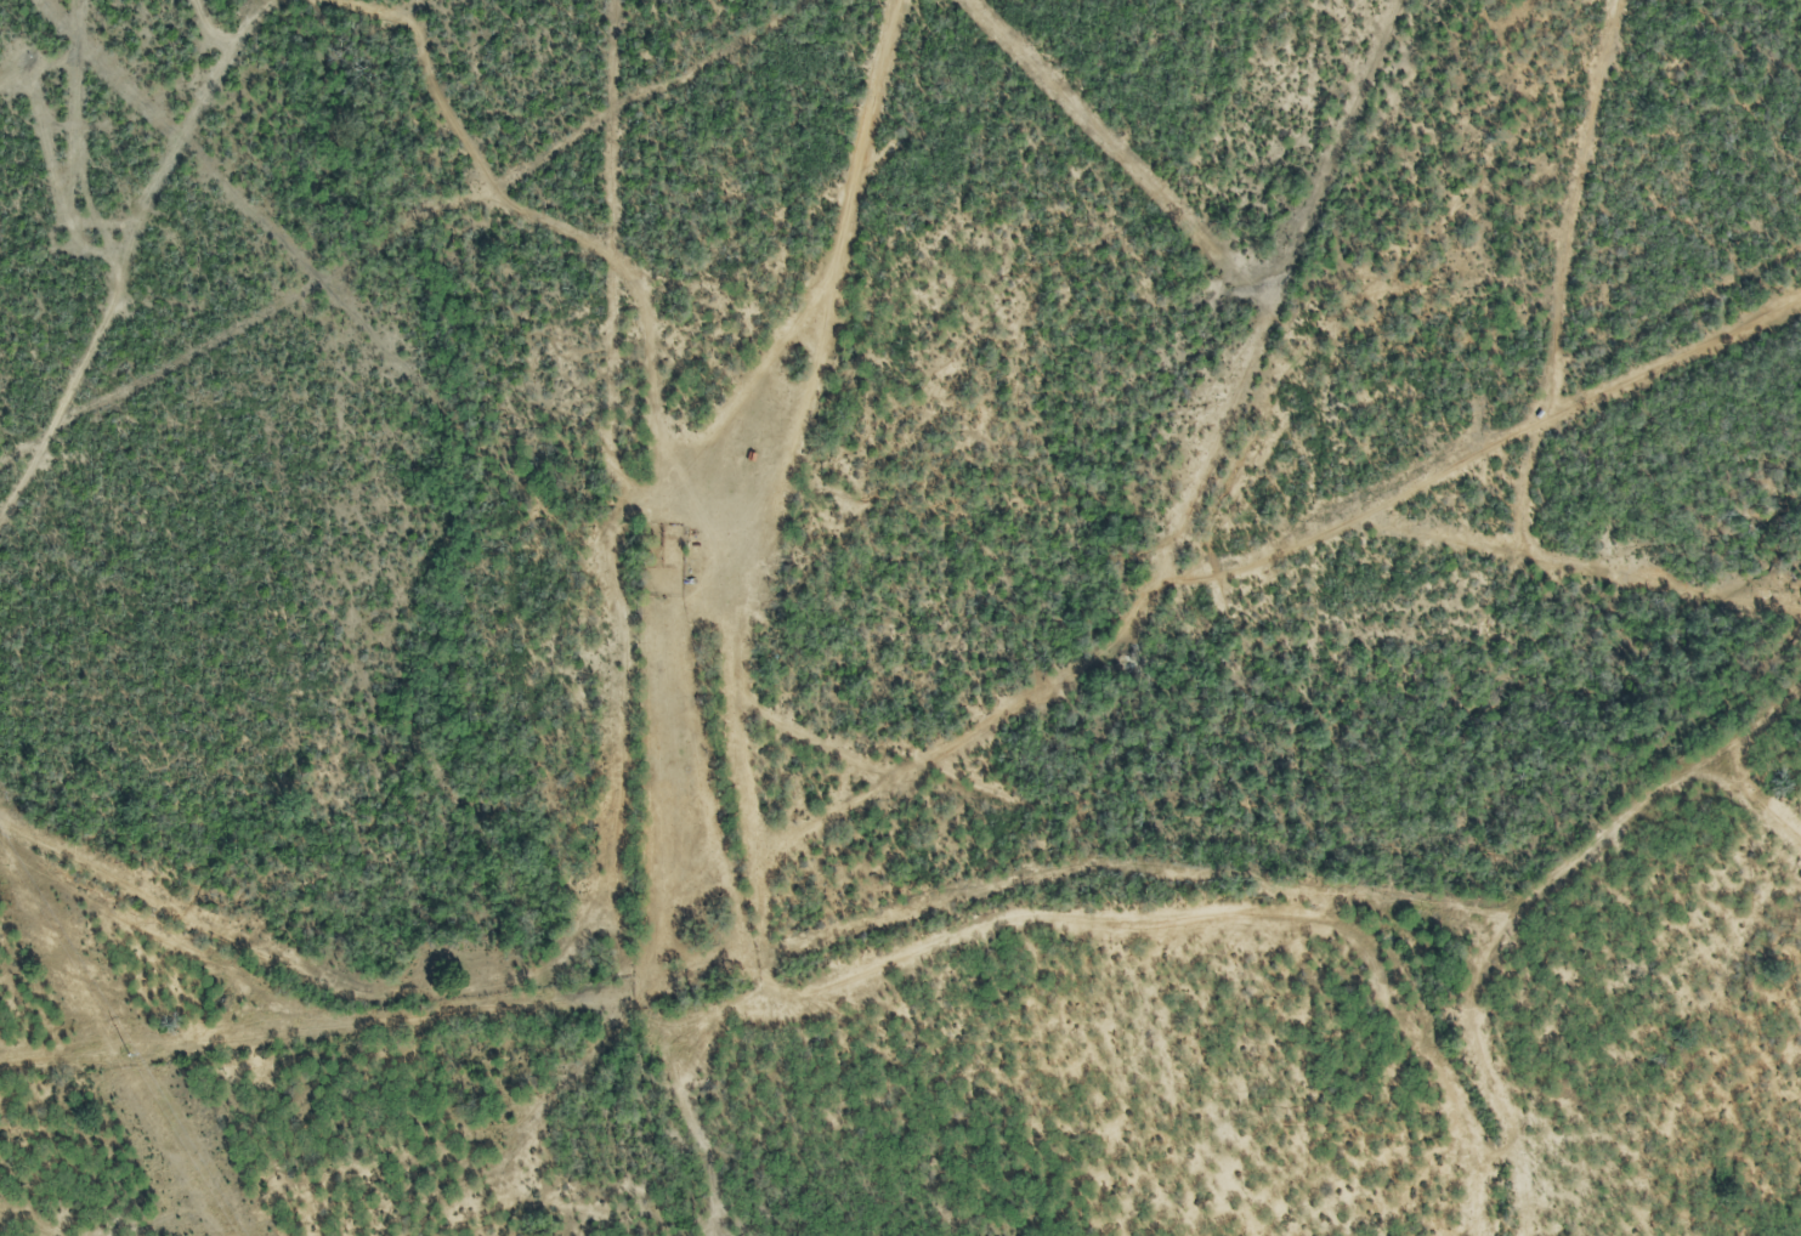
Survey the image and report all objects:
power tower: (123, 1049)

